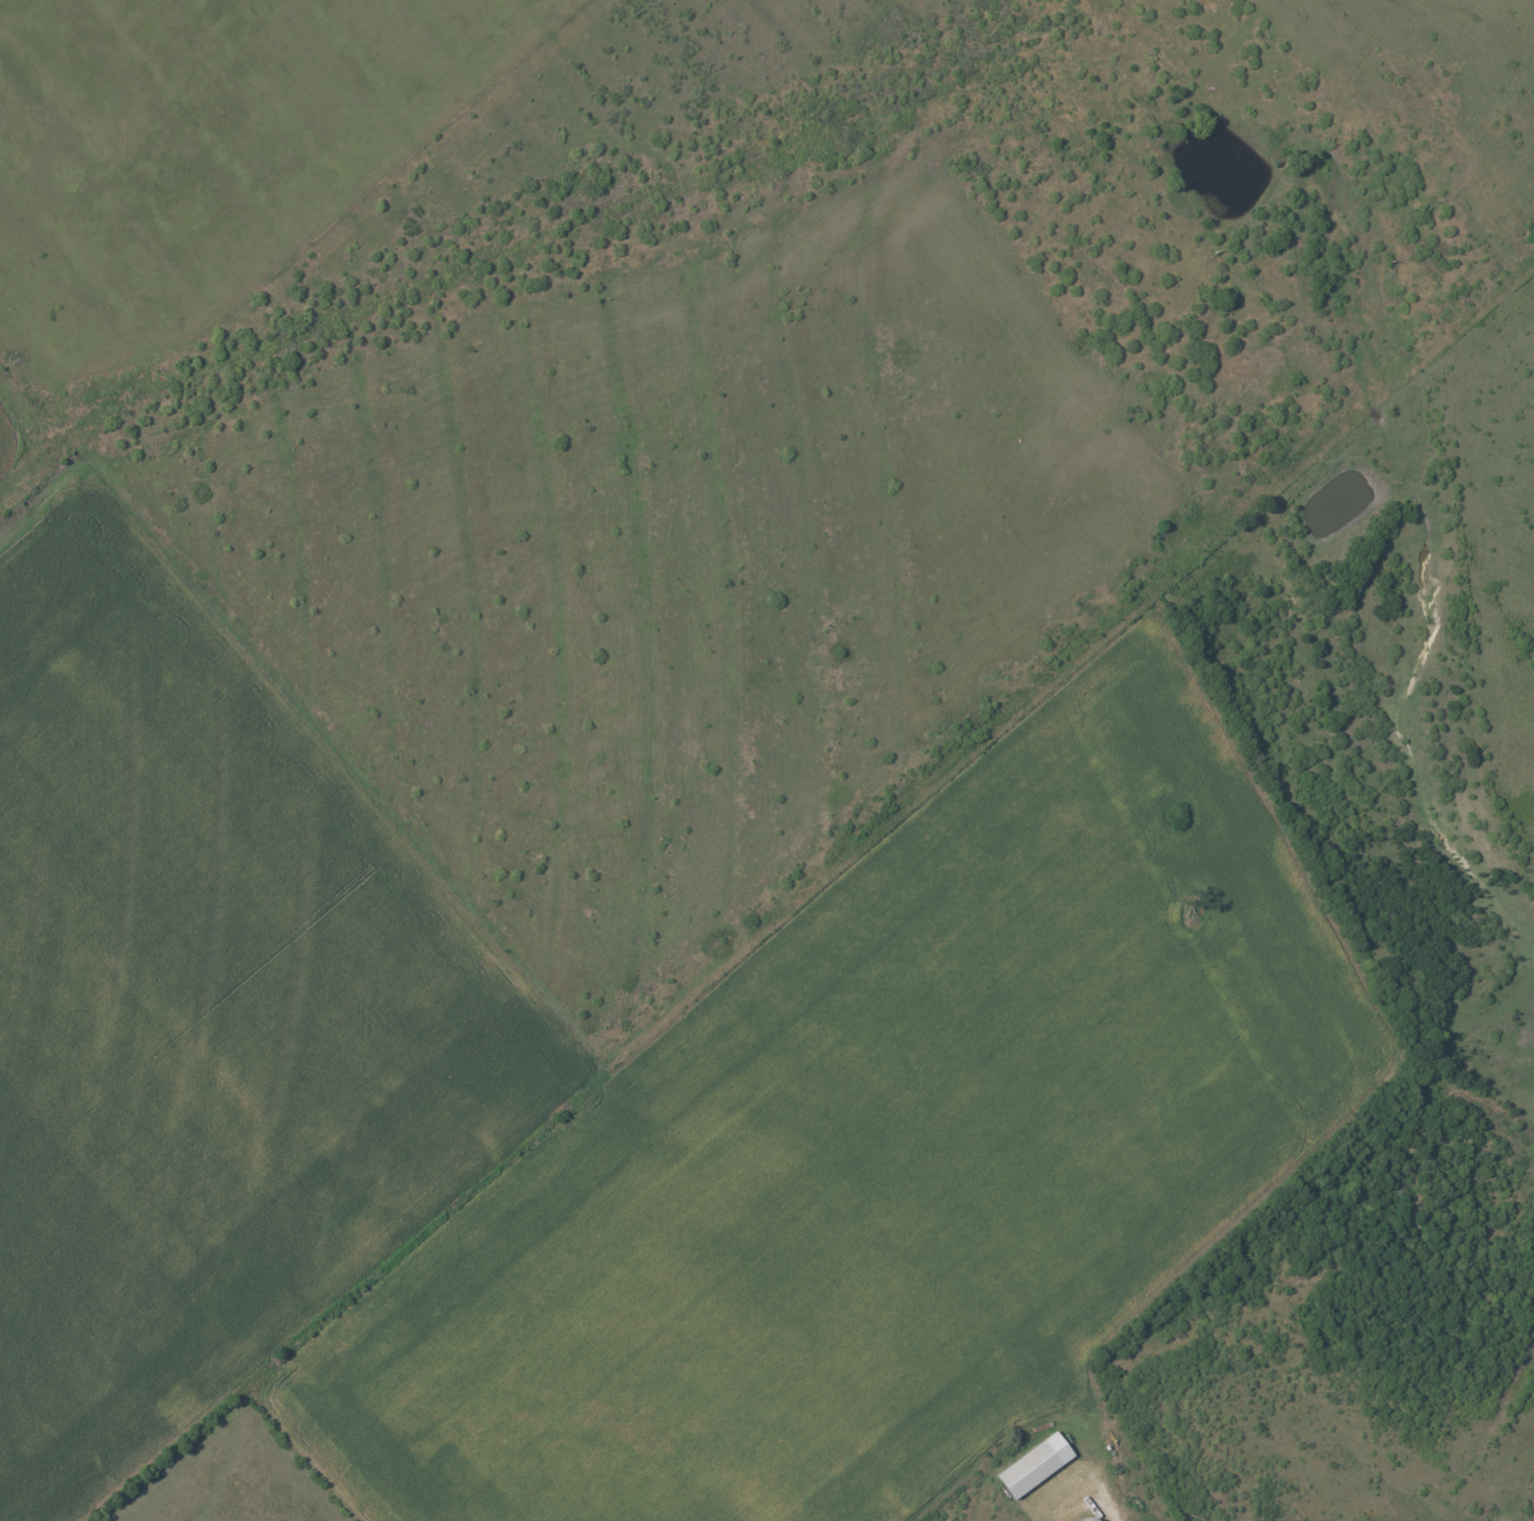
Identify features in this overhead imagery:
building: (1035, 1464)
road: (1109, 1512)

